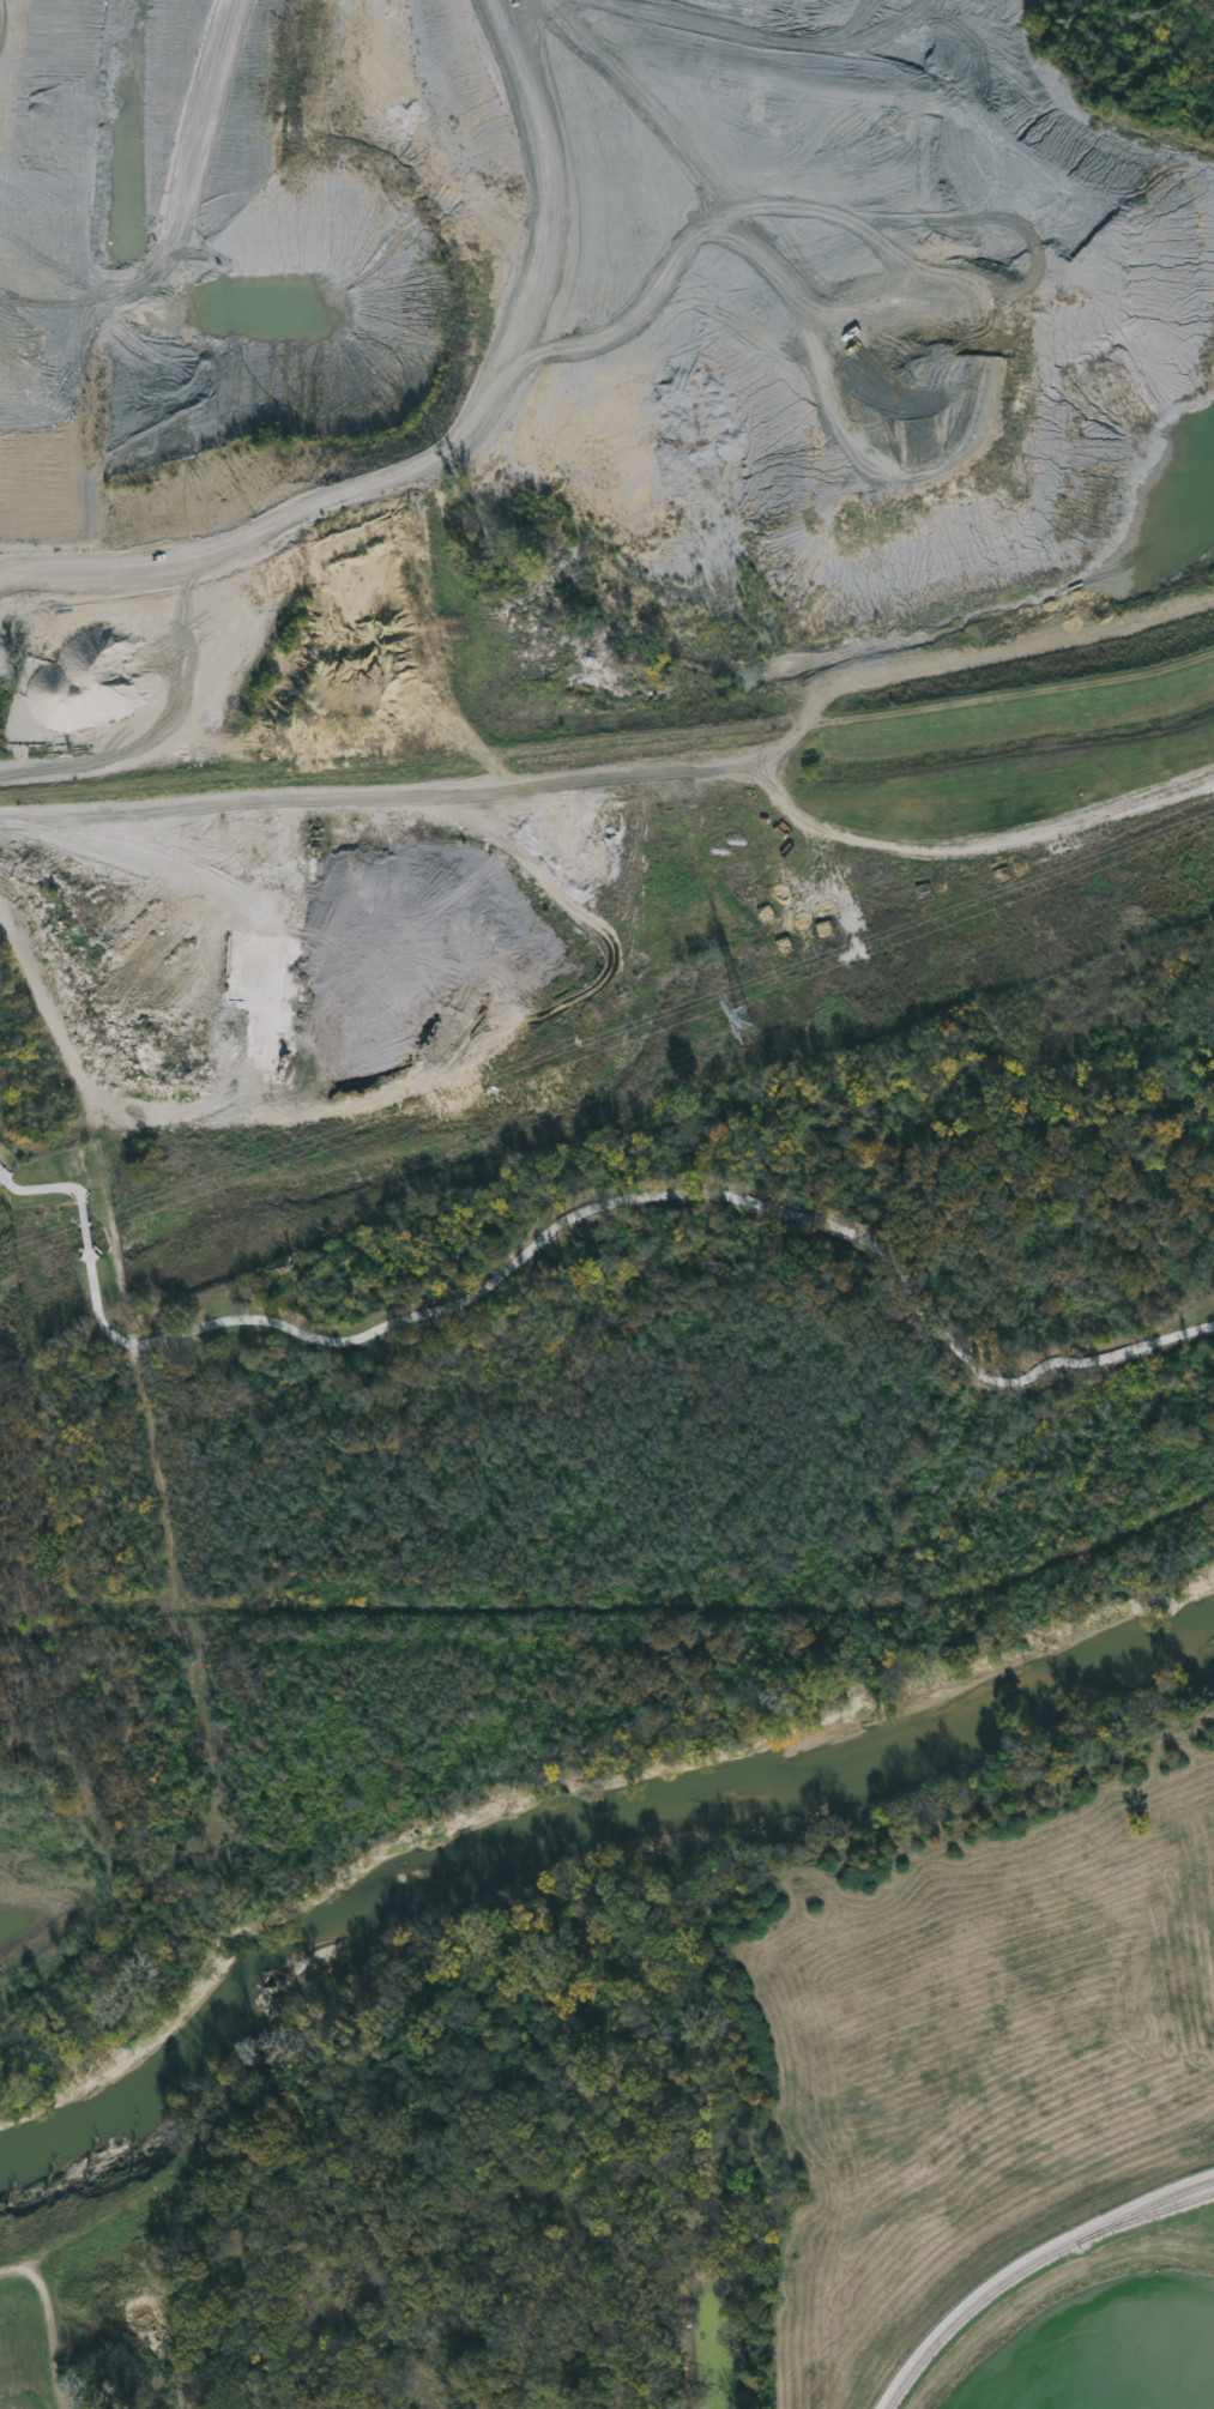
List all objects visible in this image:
landfill: (578, 360)
power tower: (744, 1018)
road: (566, 1219)
river: (570, 1839)
railway: (1156, 2202)
road: (1025, 2260)
railway: (1027, 2266)
wastewater plant: (1051, 2280)

